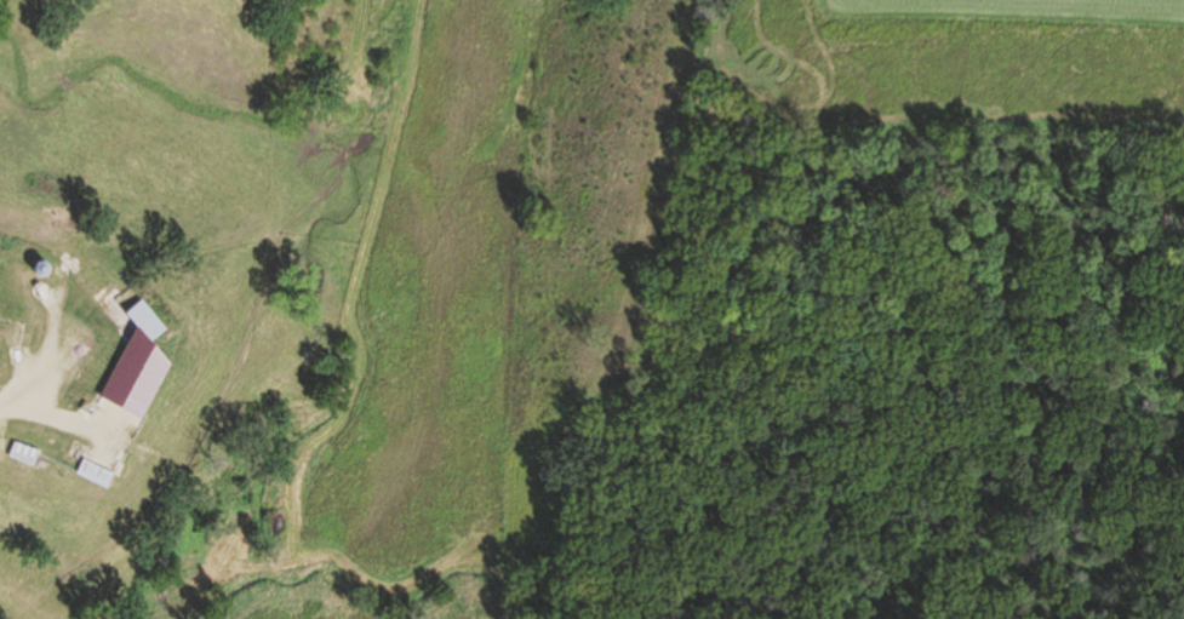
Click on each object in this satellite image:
building: (144, 321)
building: (101, 374)
building: (24, 455)
building: (95, 476)

